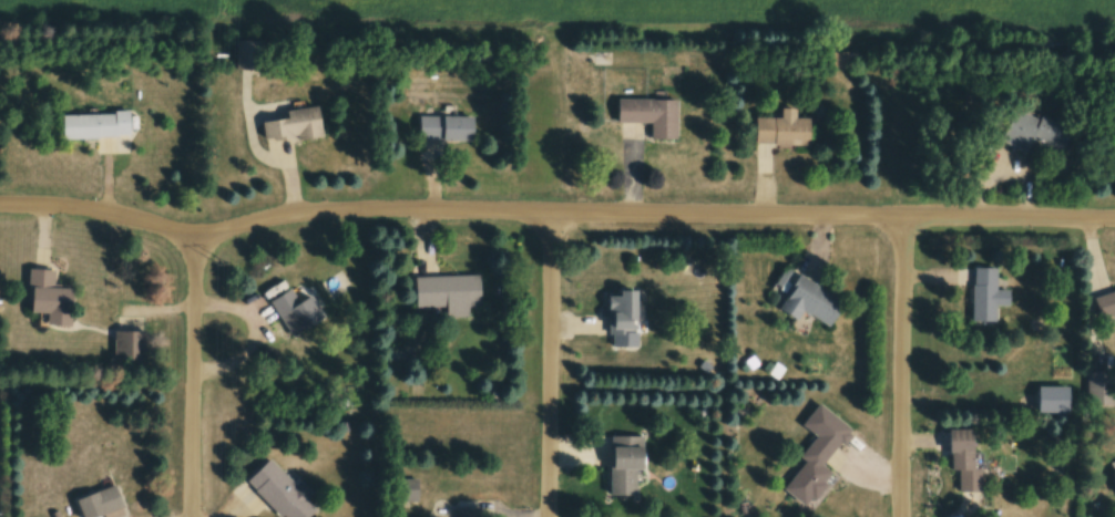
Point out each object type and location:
building: (645, 120)
building: (95, 125)
building: (291, 131)
building: (440, 132)
building: (777, 134)
building: (1025, 137)
road: (105, 211)
road: (659, 216)
power tower: (224, 265)
building: (49, 297)
building: (441, 298)
building: (979, 301)
building: (802, 307)
building: (615, 318)
building: (126, 348)
road: (552, 365)
road: (903, 369)
road: (192, 375)
building: (1042, 406)
building: (808, 461)
building: (616, 466)
building: (953, 467)
building: (1114, 475)
building: (272, 495)
building: (99, 502)

